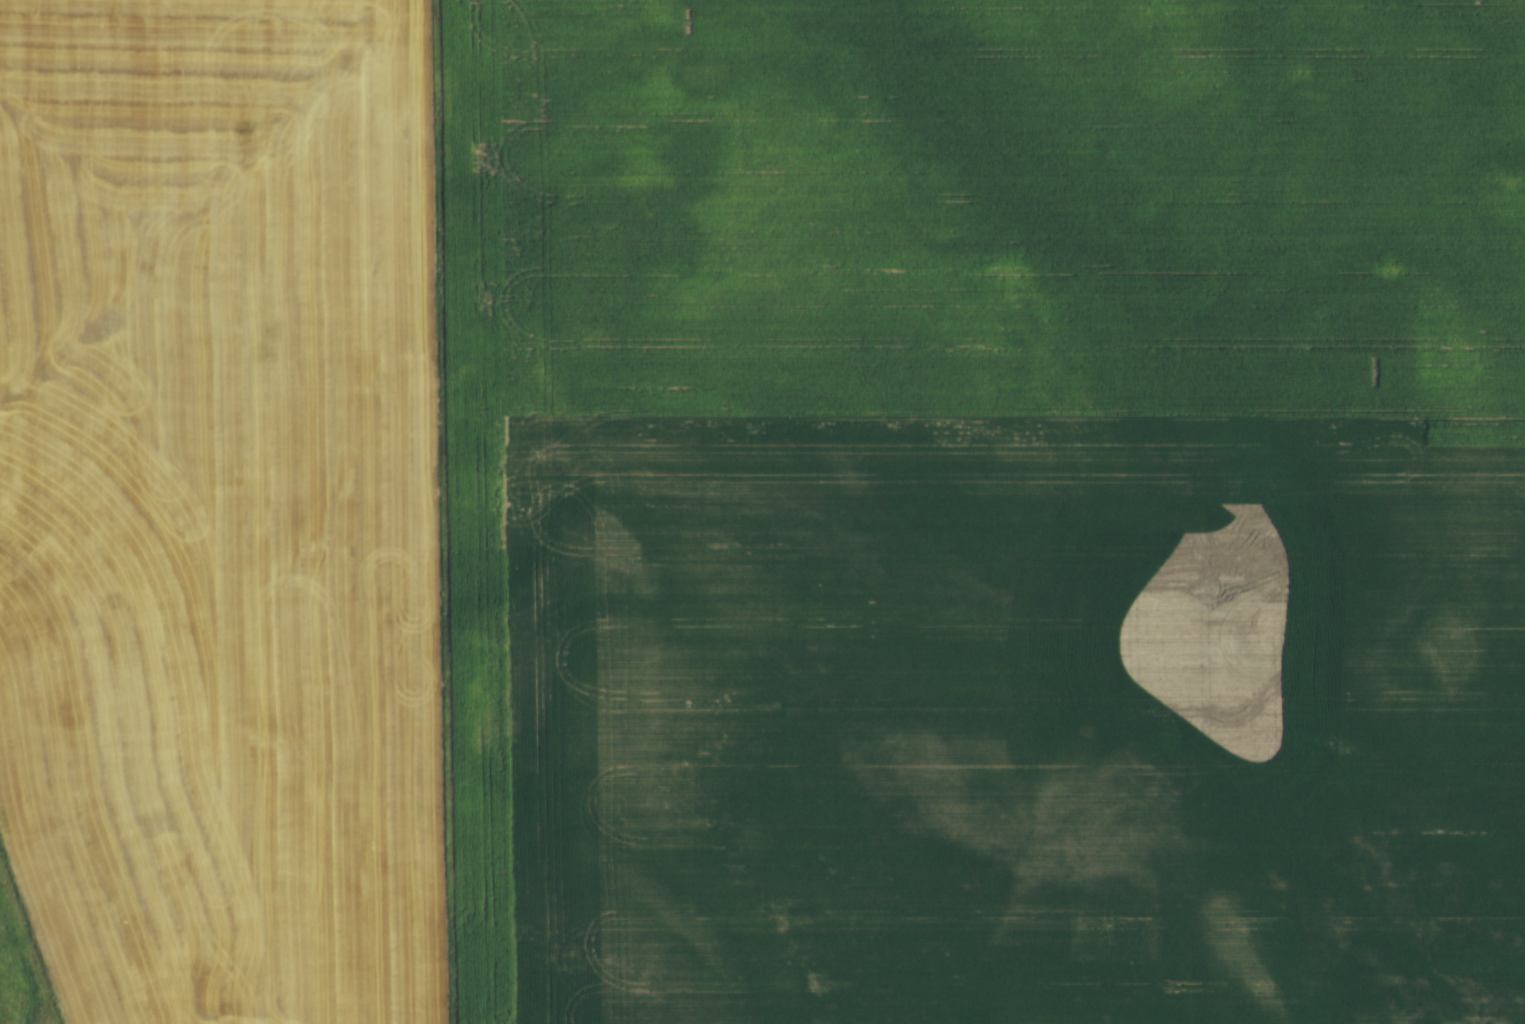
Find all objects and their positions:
crop: (219, 509)
crop: (983, 510)

